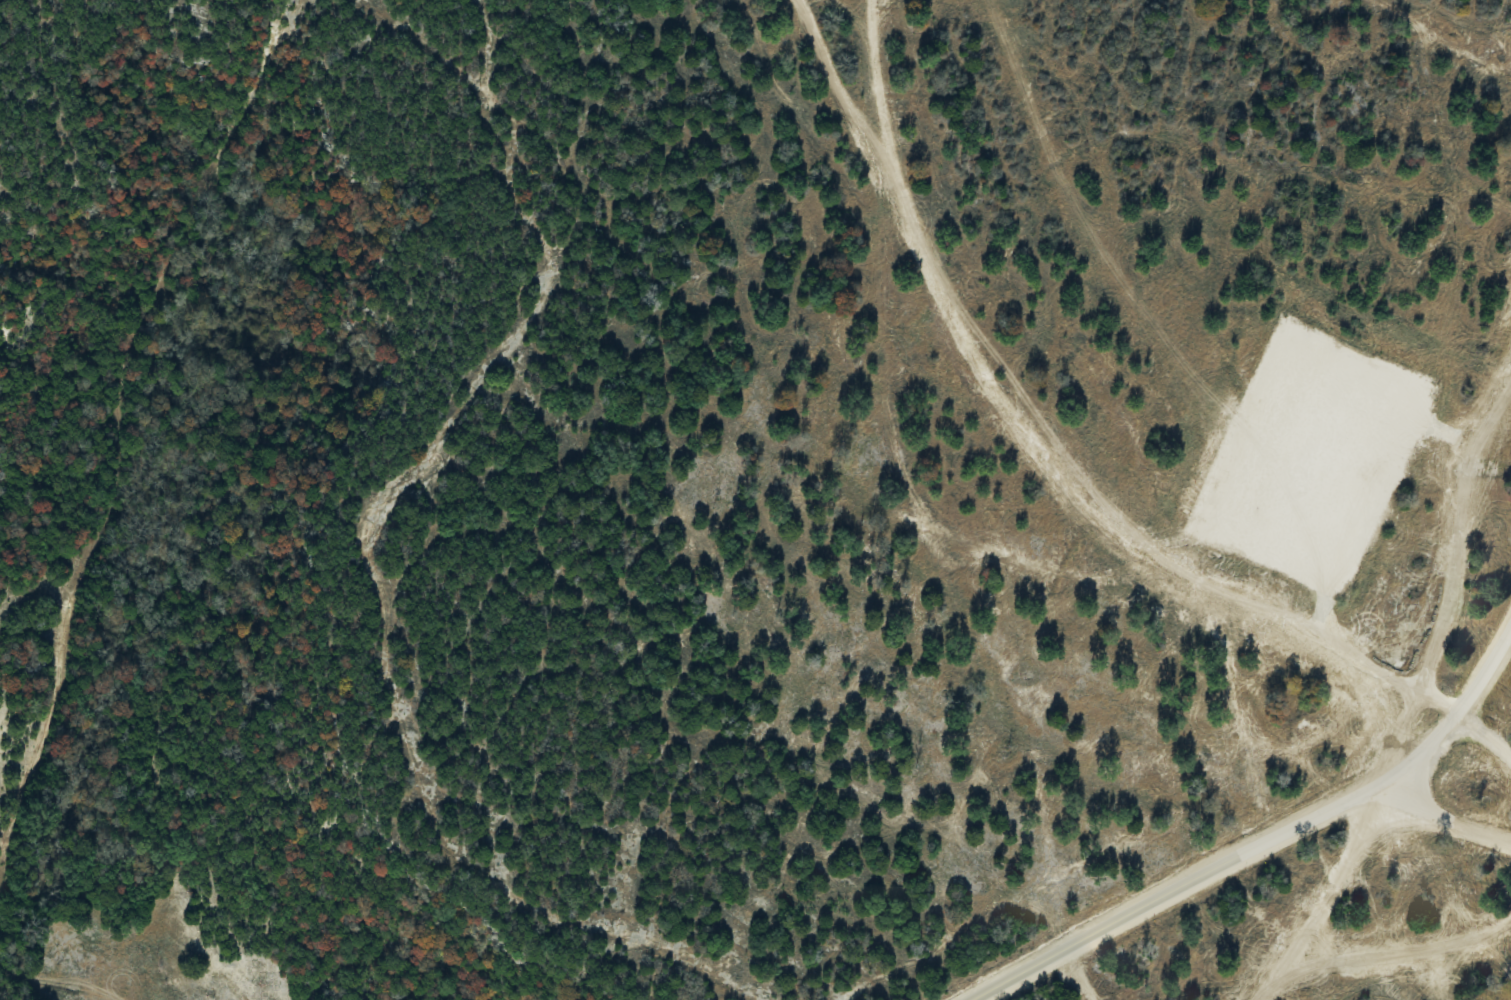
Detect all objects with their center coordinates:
road: (1022, 429)
road: (1458, 529)
road: (1485, 669)
road: (1440, 704)
road: (1485, 738)
road: (1410, 761)
road: (1432, 818)
road: (1358, 855)
road: (1161, 896)

